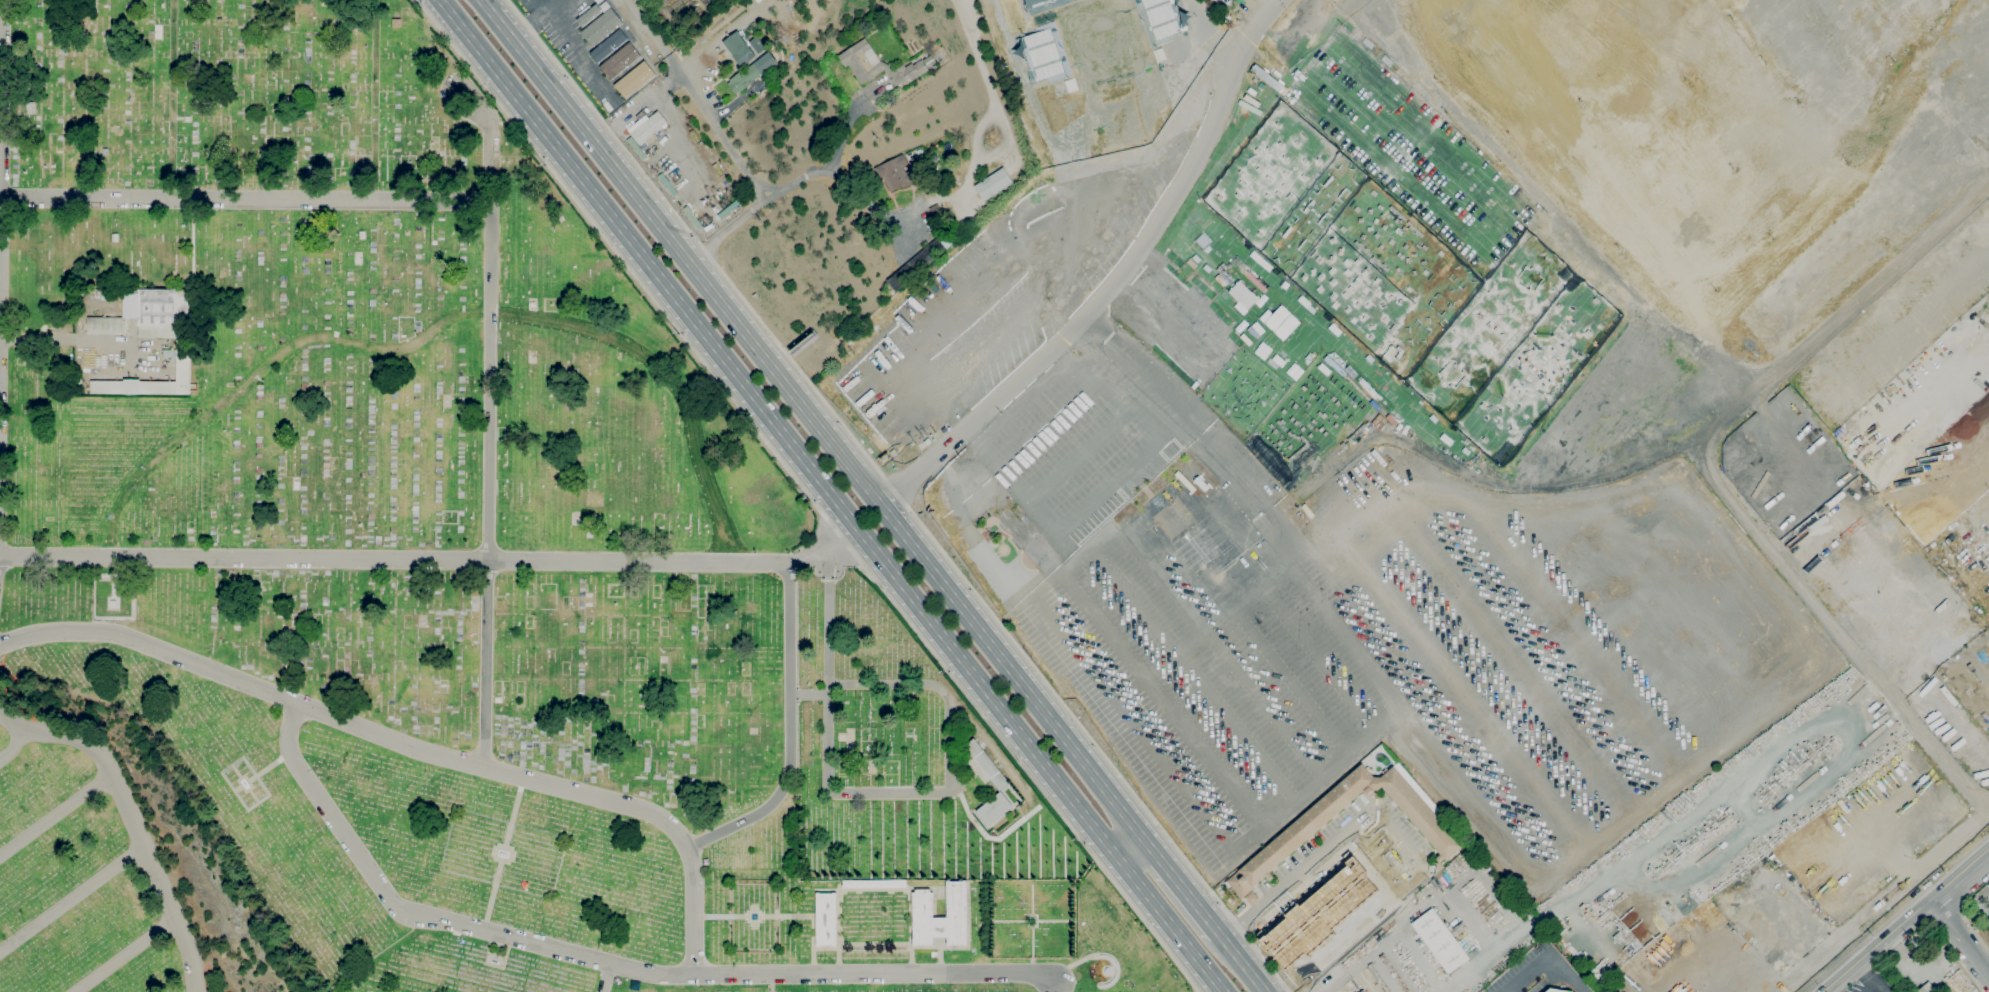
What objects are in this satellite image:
building: (1037, 2)
building: (1163, 17)
road: (539, 20)
building: (602, 26)
road: (649, 26)
park: (1100, 38)
building: (757, 45)
building: (739, 49)
road: (575, 50)
building: (1039, 55)
building: (616, 58)
road: (1, 65)
building: (876, 65)
building: (626, 71)
building: (715, 73)
building: (751, 73)
building: (637, 86)
road: (443, 91)
road: (172, 99)
road: (374, 100)
road: (637, 108)
building: (188, 118)
road: (719, 127)
building: (647, 129)
road: (843, 132)
building: (894, 173)
park: (1268, 174)
building: (947, 184)
building: (993, 184)
building: (937, 191)
road: (244, 199)
road: (862, 199)
building: (934, 210)
park: (1311, 214)
road: (746, 219)
building: (362, 235)
building: (115, 238)
road: (694, 238)
park: (1391, 240)
building: (922, 257)
road: (1114, 281)
park: (1351, 291)
building: (1241, 295)
building: (532, 304)
park: (1431, 317)
building: (1281, 322)
building: (106, 326)
park: (1489, 326)
road: (437, 328)
road: (44, 340)
building: (183, 340)
road: (1219, 356)
park: (1536, 369)
park: (1243, 392)
road: (1109, 395)
road: (811, 419)
park: (1307, 422)
road: (774, 431)
road: (1051, 431)
road: (488, 438)
road: (1187, 443)
road: (1677, 449)
road: (1080, 459)
building: (1196, 478)
road: (894, 491)
road: (1021, 494)
road: (807, 495)
building: (1013, 527)
building: (1182, 531)
building: (1040, 554)
road: (1602, 555)
road: (428, 556)
park: (434, 576)
building: (113, 603)
road: (1188, 612)
road: (1217, 623)
road: (1795, 626)
road: (1833, 629)
road: (1589, 635)
road: (1585, 636)
road: (1535, 642)
road: (1321, 661)
road: (1496, 667)
road: (1294, 683)
road: (1462, 692)
road: (1174, 716)
road: (1132, 725)
road: (1858, 729)
road: (797, 735)
road: (408, 746)
road: (13, 747)
road: (1097, 749)
building: (986, 764)
road: (1295, 803)
building: (994, 809)
road: (56, 815)
road: (130, 819)
building: (1305, 826)
road: (1377, 841)
road: (1132, 847)
road: (1406, 848)
road: (503, 853)
road: (1309, 865)
road: (1960, 873)
building: (874, 884)
road: (1181, 885)
road: (70, 896)
building: (1251, 897)
building: (1981, 898)
road: (1879, 899)
building: (922, 905)
building: (1318, 913)
building: (826, 919)
road: (1172, 925)
road: (1951, 927)
road: (1581, 930)
road: (1977, 934)
road: (1959, 937)
building: (1439, 941)
railway: (1284, 943)
road: (1501, 944)
road: (1876, 944)
road: (1900, 955)
road: (124, 956)
road: (1550, 957)
road: (603, 961)
road: (1239, 962)
road: (1960, 963)
parking lot: (1524, 968)
road: (605, 977)
road: (770, 984)
road: (1285, 986)
building: (1926, 988)
building: (1555, 990)
building: (1363, 991)

